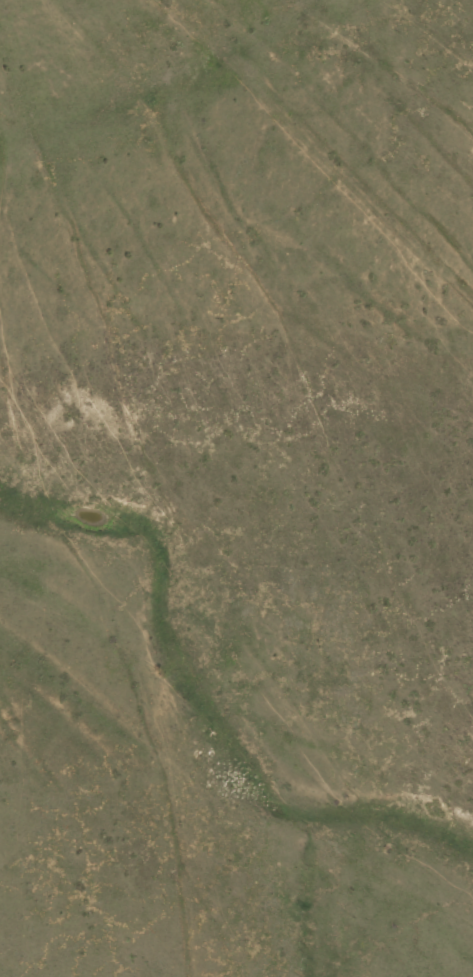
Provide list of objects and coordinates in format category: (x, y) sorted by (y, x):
road: (320, 164)

